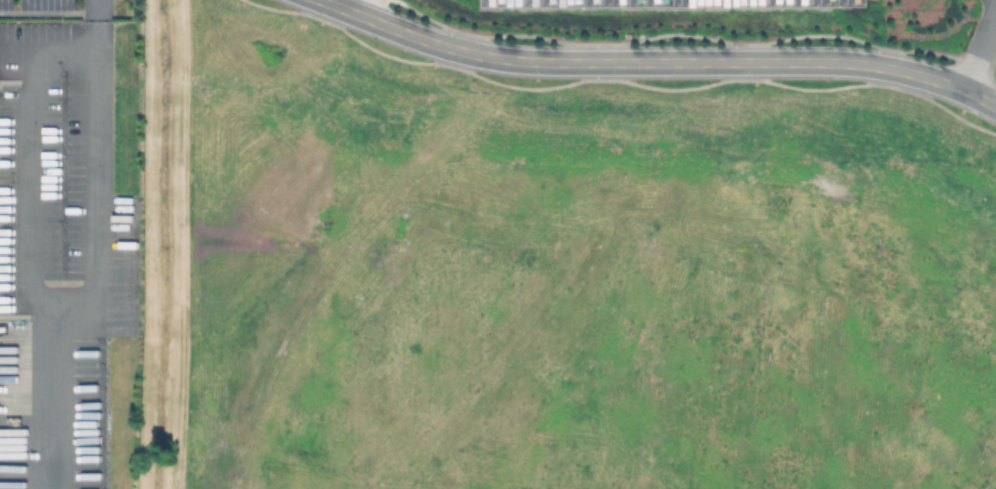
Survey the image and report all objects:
road: (355, 6)
road: (100, 11)
road: (980, 46)
road: (656, 63)
road: (36, 156)
road: (184, 244)
road: (97, 276)

